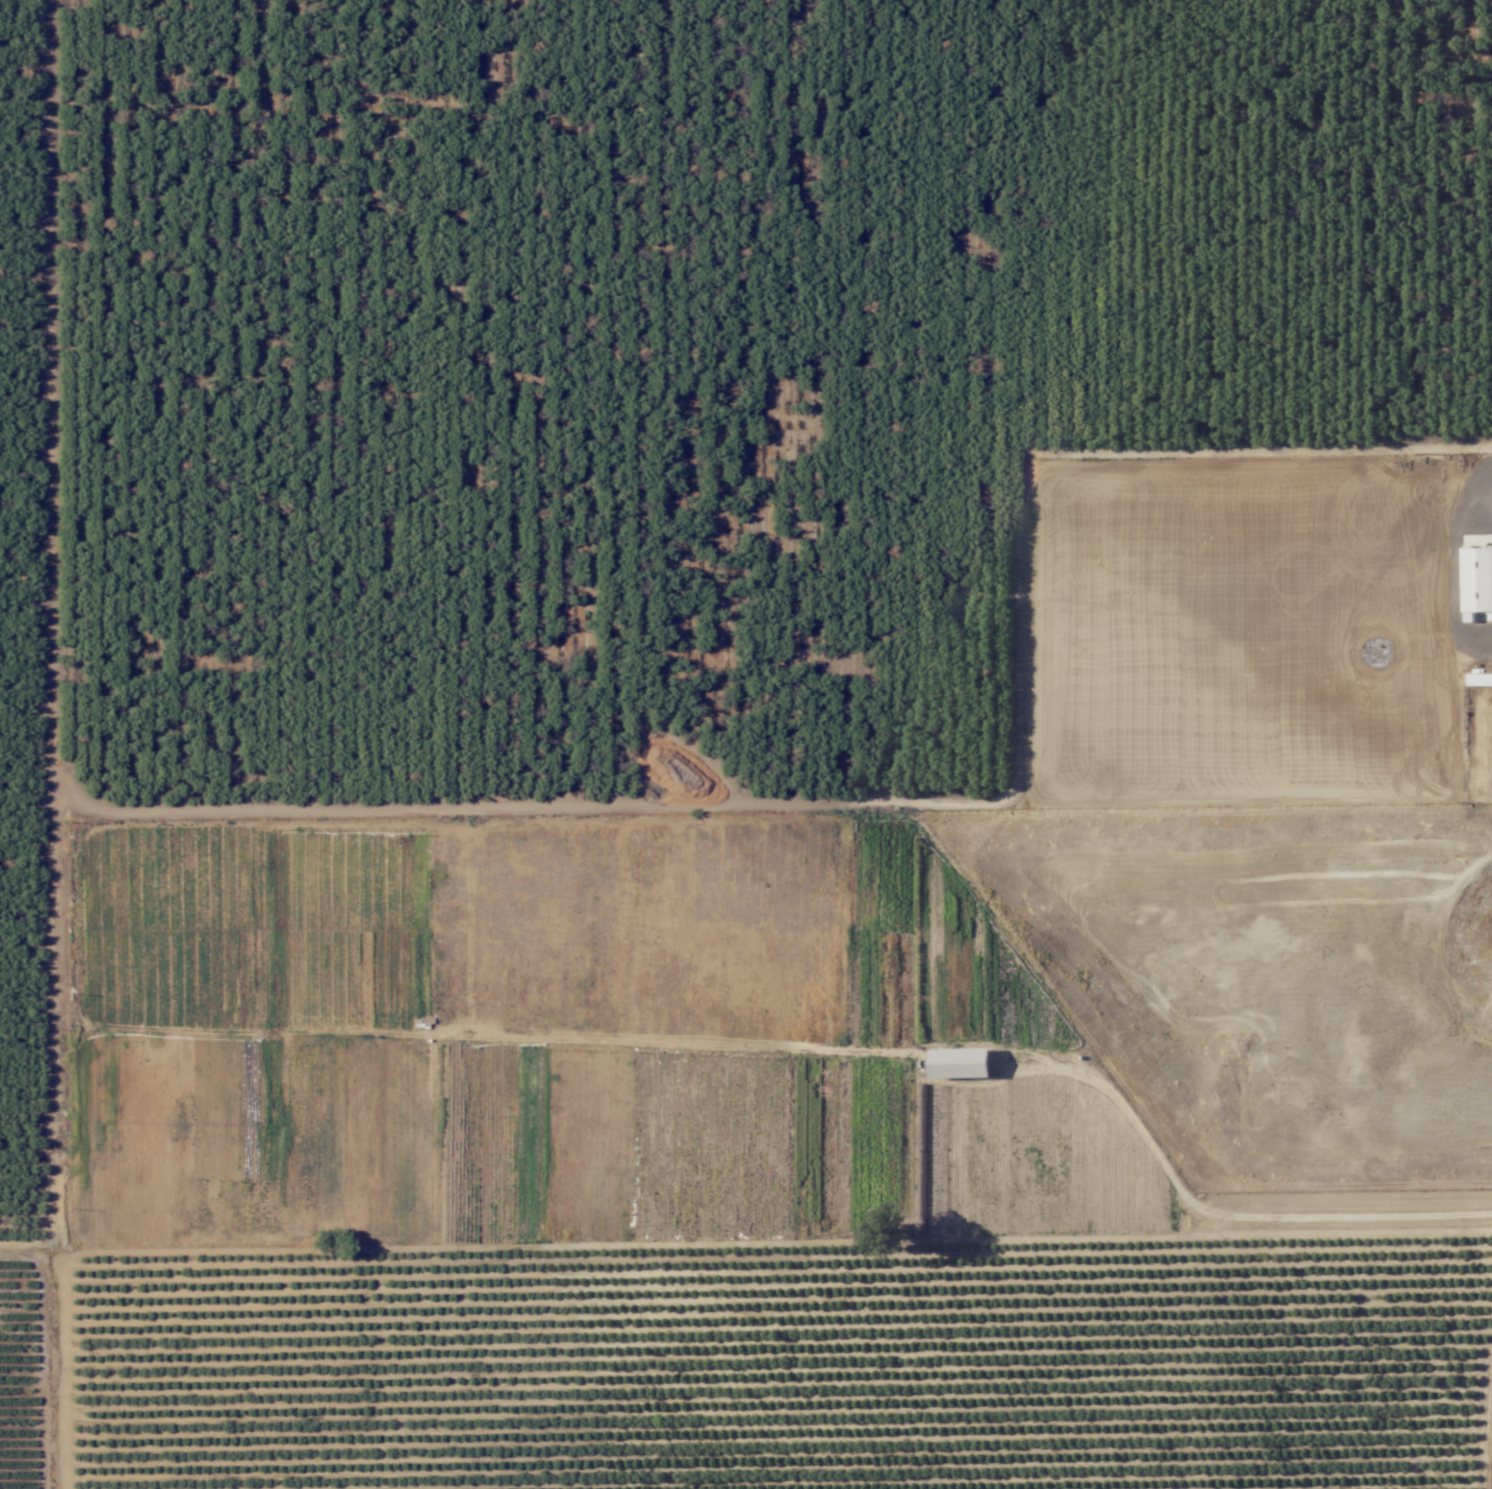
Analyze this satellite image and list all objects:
road: (1487, 495)
building: (1477, 581)
building: (1480, 679)
building: (962, 1063)

